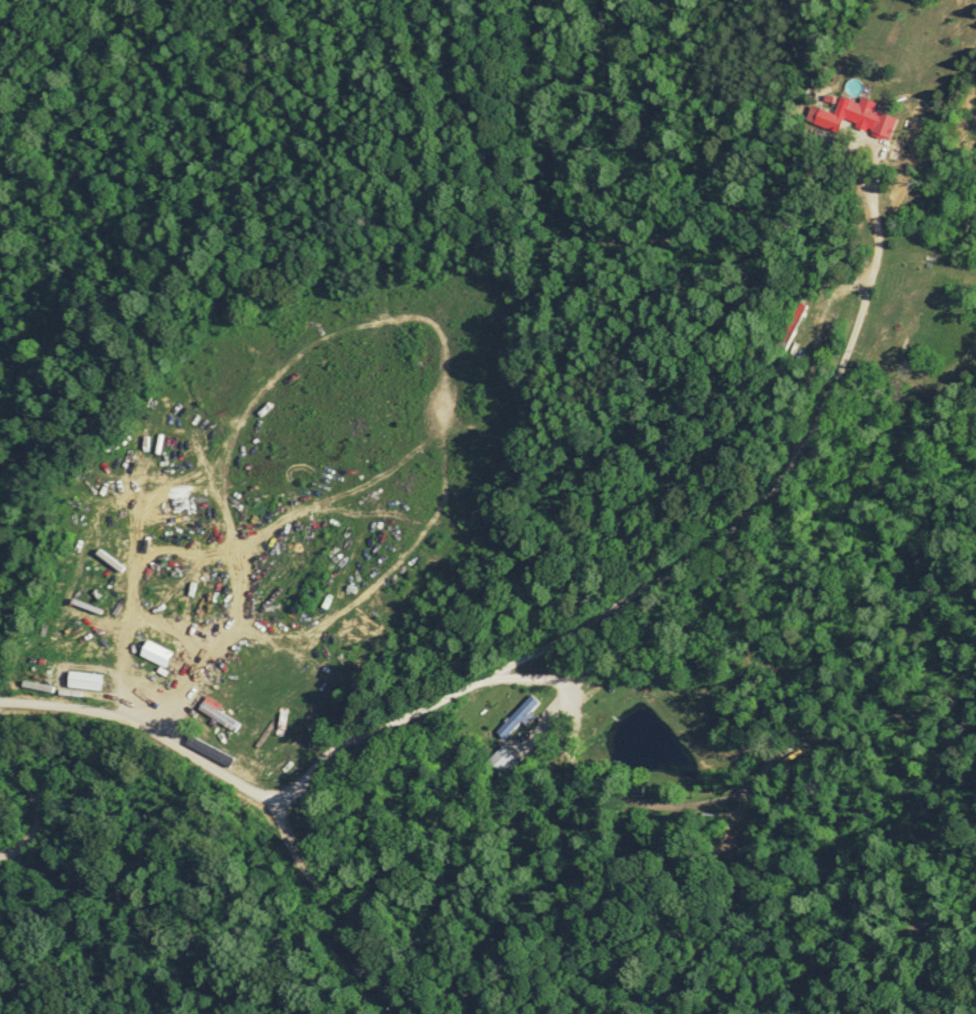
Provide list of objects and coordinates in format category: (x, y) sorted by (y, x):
building: (859, 113)
building: (793, 327)
building: (153, 652)
building: (82, 679)
building: (143, 680)
road: (413, 711)
building: (217, 714)
building: (514, 716)
building: (502, 759)
road: (450, 966)

